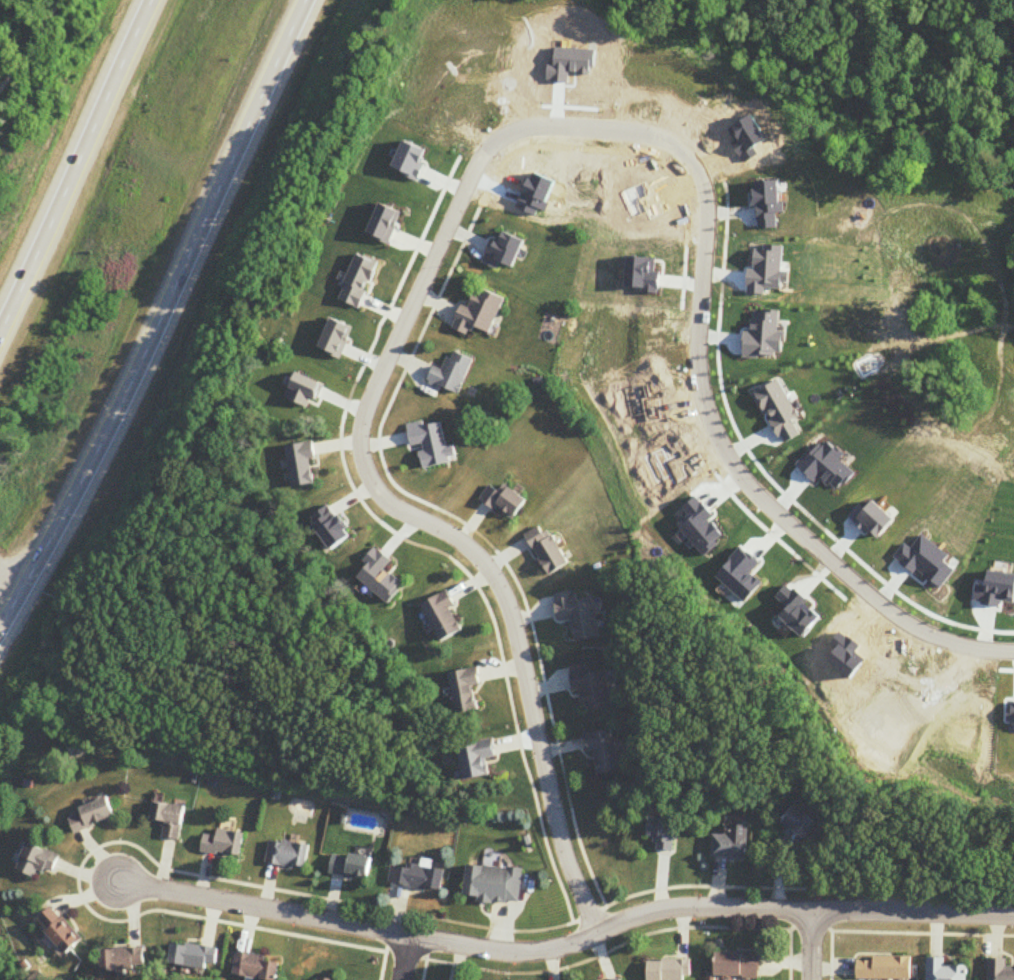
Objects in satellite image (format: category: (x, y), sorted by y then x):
park: (26, 53)
road: (485, 156)
road: (75, 169)
road: (437, 305)
building: (480, 315)
road: (158, 318)
road: (427, 325)
road: (410, 365)
building: (453, 374)
building: (302, 465)
building: (504, 502)
building: (547, 551)
road: (13, 577)
building: (578, 617)
building: (443, 619)
building: (592, 690)
building: (465, 692)
road: (546, 694)
building: (602, 752)
building: (476, 761)
building: (93, 816)
building: (170, 820)
building: (799, 823)
building: (662, 834)
building: (225, 845)
building: (730, 848)
building: (288, 855)
road: (90, 858)
building: (38, 862)
building: (351, 867)
building: (417, 878)
building: (493, 886)
building: (61, 930)
road: (790, 932)
road: (899, 934)
road: (567, 945)
road: (811, 945)
building: (194, 956)
road: (408, 958)
building: (123, 960)
building: (738, 965)
road: (385, 966)
building: (257, 967)
building: (885, 968)
building: (669, 970)
building: (945, 970)
building: (1000, 970)
building: (328, 979)
building: (620, 979)

